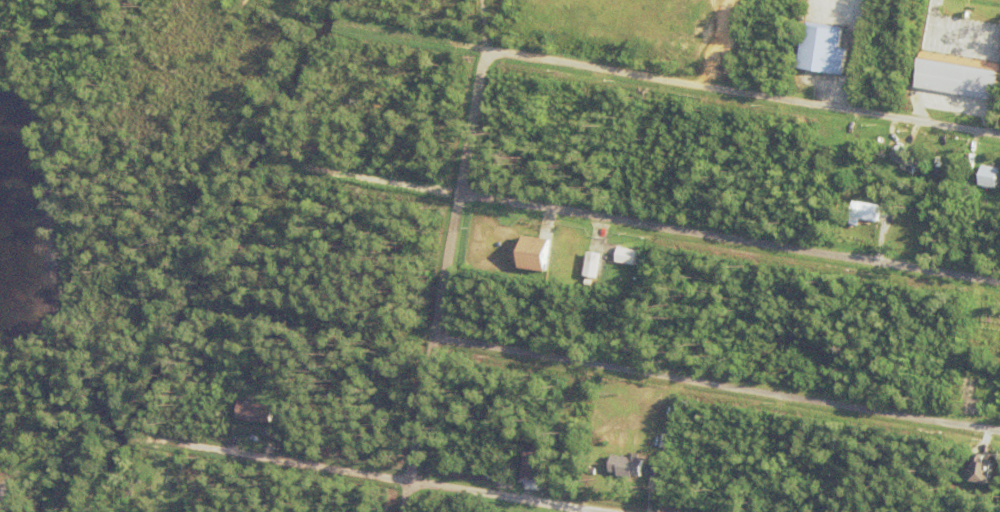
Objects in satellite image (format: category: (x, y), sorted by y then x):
road: (269, 4)
building: (360, 4)
building: (863, 20)
building: (824, 52)
road: (668, 82)
building: (566, 101)
building: (599, 113)
building: (669, 113)
road: (189, 119)
building: (676, 122)
road: (472, 124)
building: (691, 126)
building: (651, 143)
building: (925, 143)
building: (972, 156)
building: (911, 162)
building: (934, 162)
building: (991, 178)
building: (906, 188)
building: (868, 214)
road: (636, 225)
building: (883, 236)
building: (517, 252)
building: (595, 253)
building: (622, 255)
building: (537, 257)
road: (448, 266)
building: (993, 325)
road: (601, 362)
building: (983, 382)
building: (968, 402)
building: (984, 403)
building: (258, 415)
road: (422, 423)
building: (977, 468)
building: (534, 469)
building: (628, 470)
road: (387, 477)
road: (48, 487)
road: (5, 496)
road: (3, 509)

